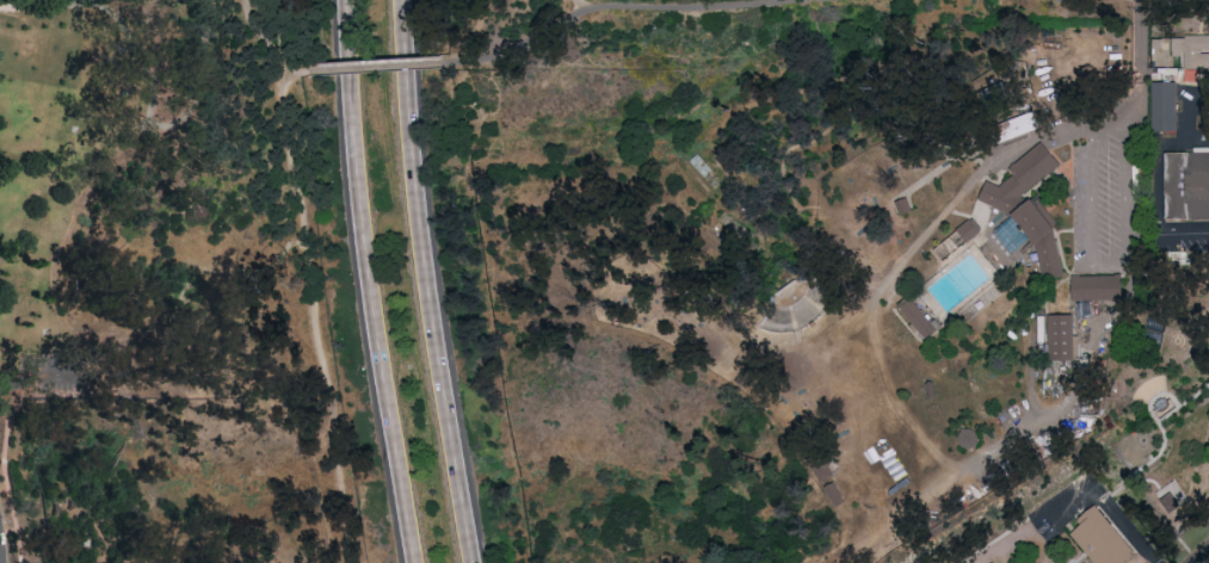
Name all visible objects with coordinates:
road: (578, 5)
road: (611, 6)
road: (475, 30)
road: (266, 44)
building: (1180, 62)
road: (376, 66)
road: (148, 89)
building: (1164, 111)
road: (1185, 116)
building: (1016, 130)
building: (723, 162)
road: (985, 171)
building: (705, 175)
building: (1188, 187)
building: (903, 209)
building: (1028, 215)
building: (970, 228)
building: (735, 229)
building: (955, 245)
road: (1114, 268)
park: (604, 281)
road: (372, 283)
road: (424, 283)
building: (1096, 289)
building: (797, 308)
road: (315, 314)
building: (918, 321)
building: (1060, 340)
road: (37, 375)
road: (1183, 404)
road: (1147, 465)
building: (819, 469)
road: (5, 484)
road: (1141, 487)
building: (833, 496)
building: (1170, 500)
road: (1105, 511)
road: (1003, 537)
building: (1097, 539)
road: (1207, 561)

